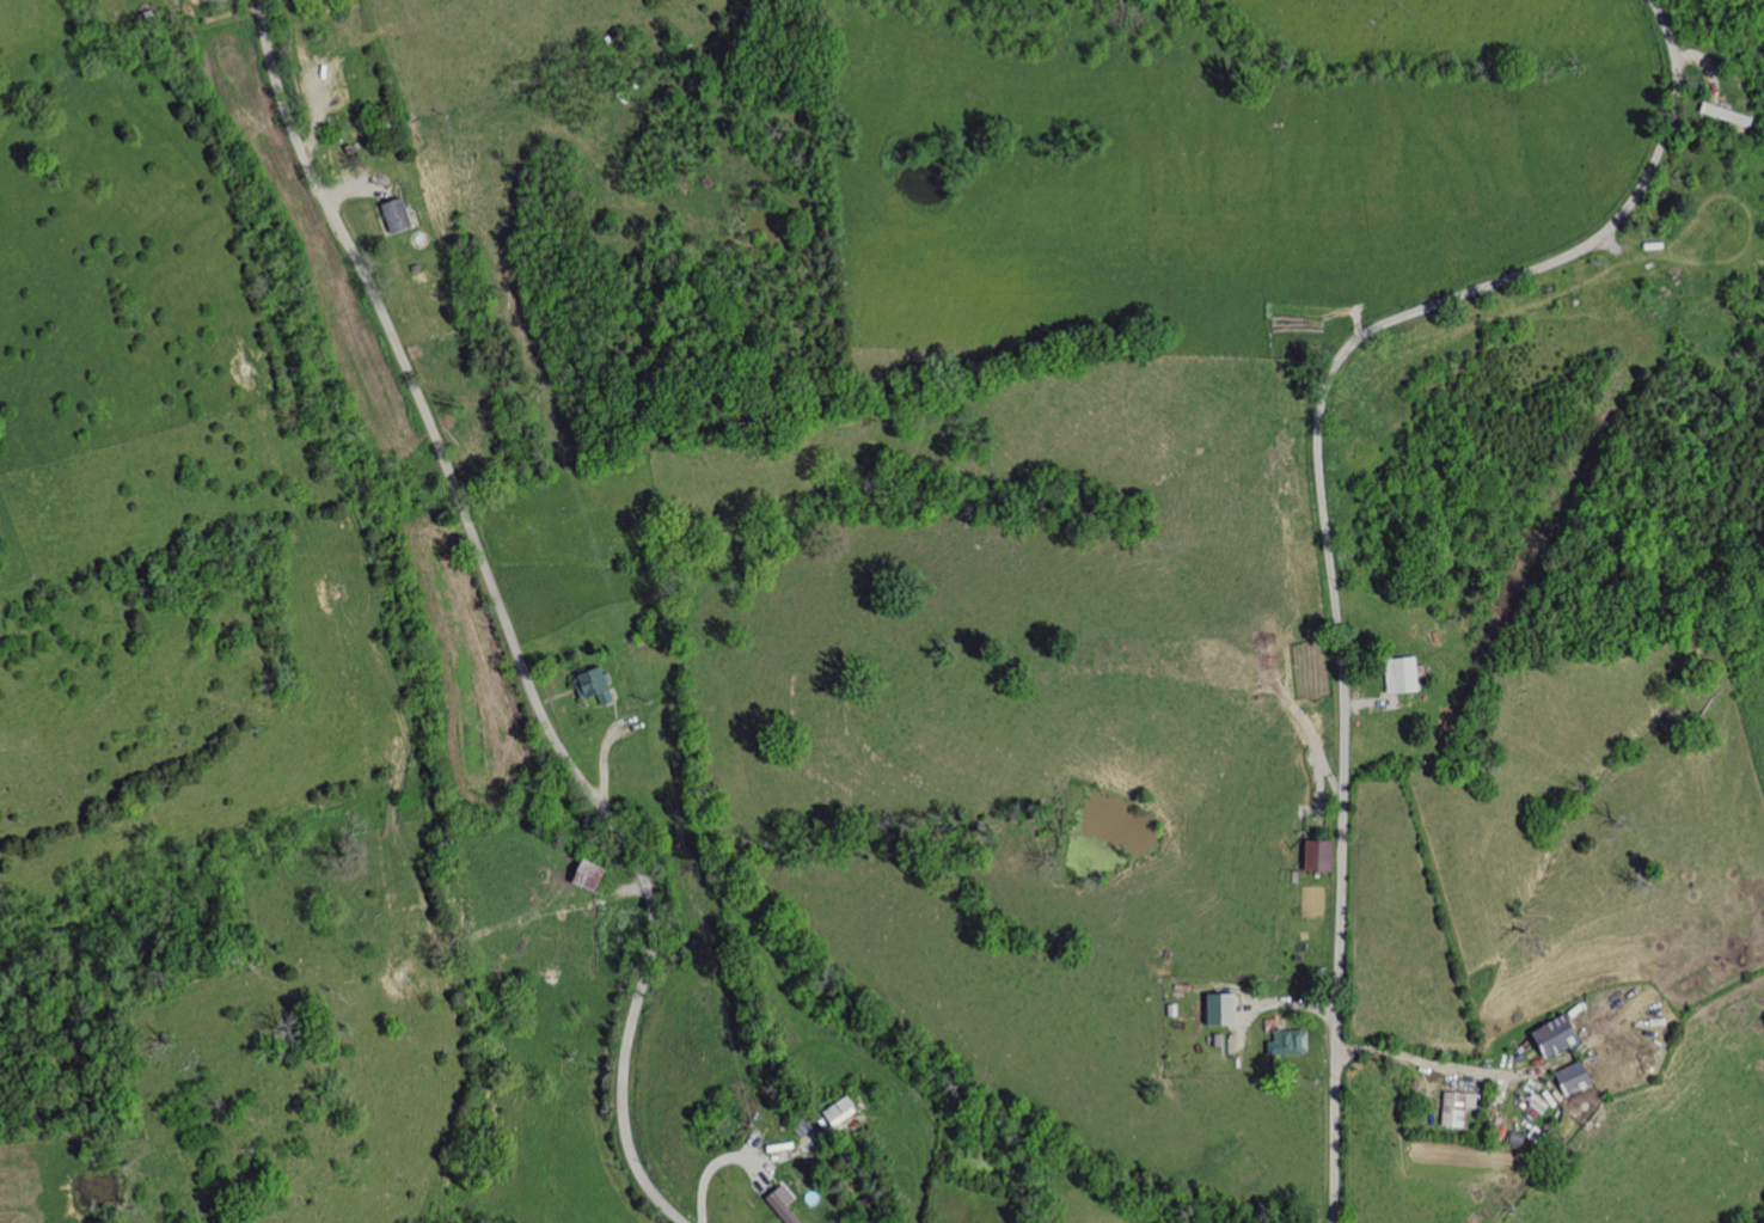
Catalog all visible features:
building: (1731, 115)
building: (402, 216)
road: (1324, 512)
road: (506, 617)
building: (1397, 674)
building: (599, 685)
building: (596, 876)
building: (1549, 1035)
building: (1285, 1042)
road: (1408, 1059)
building: (1568, 1078)
building: (1454, 1107)
building: (845, 1111)
building: (786, 1206)

